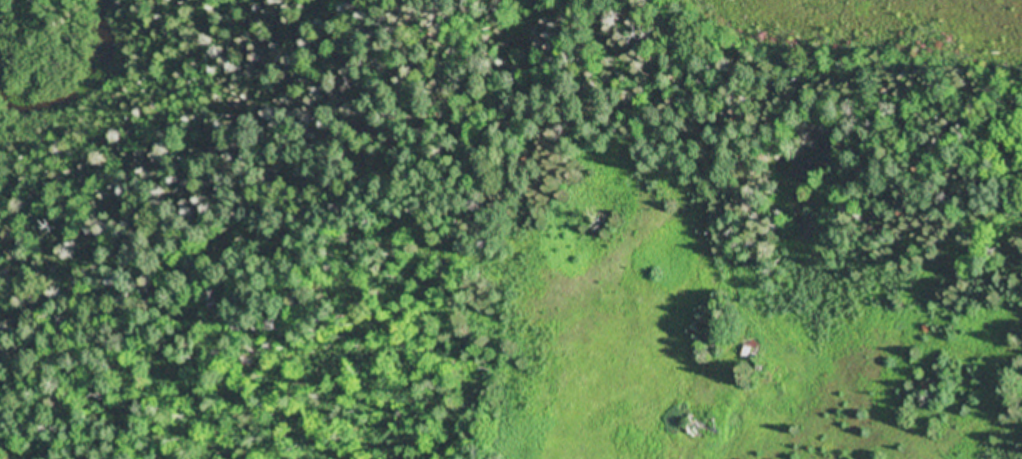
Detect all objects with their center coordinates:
river: (69, 78)
road: (838, 82)

